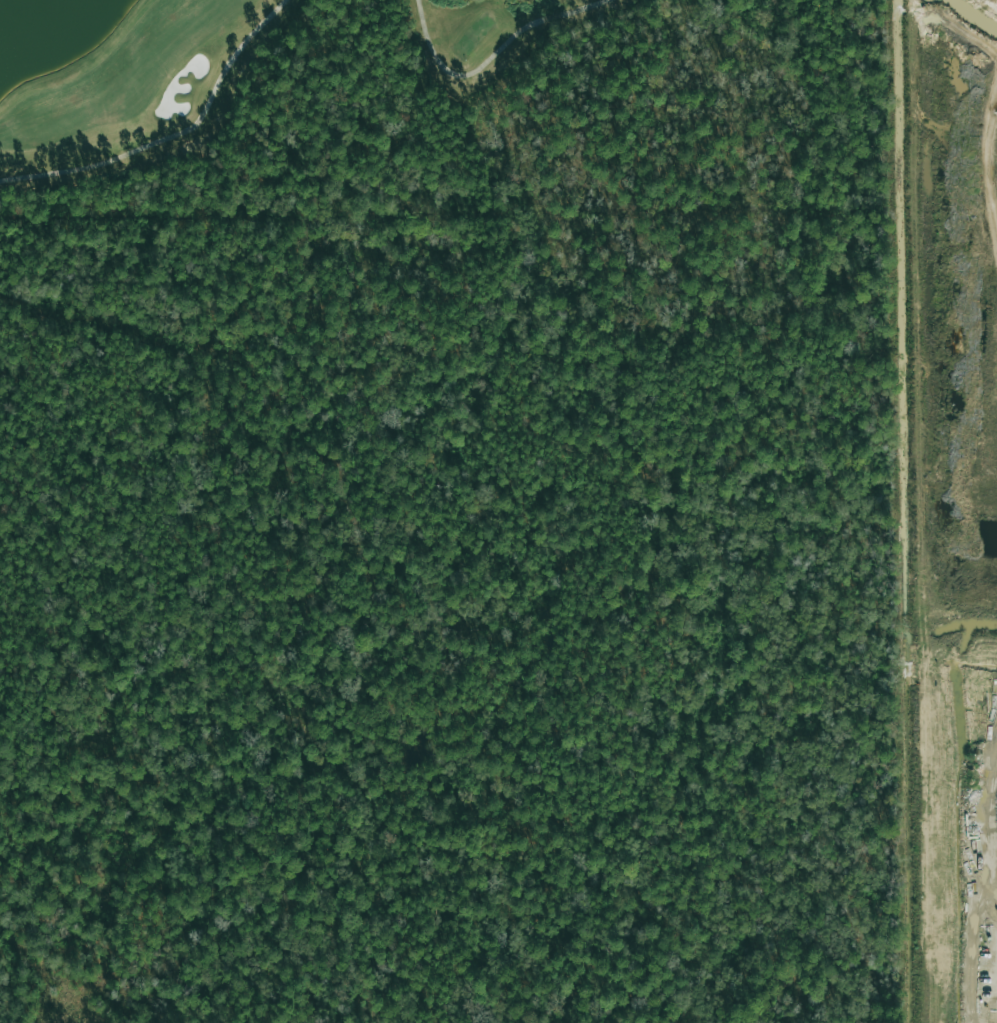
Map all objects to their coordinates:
park: (255, 90)
park: (255, 90)

